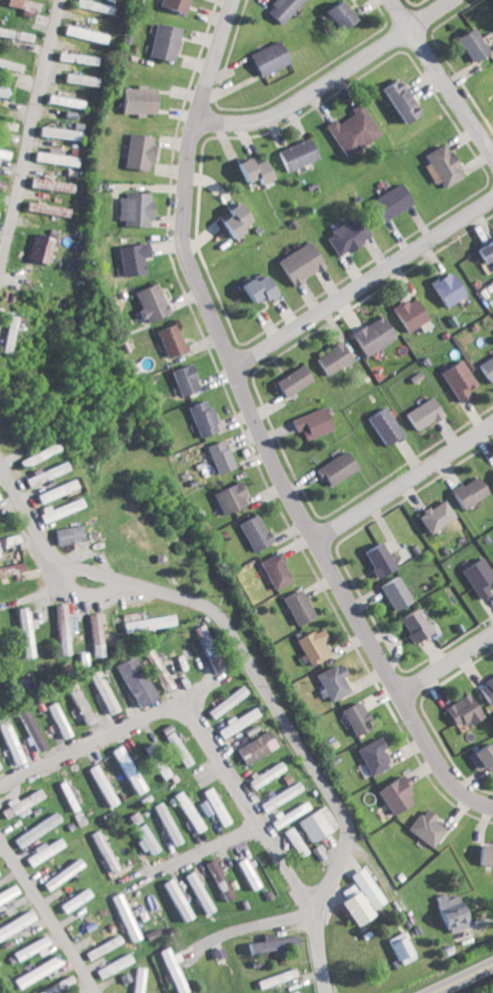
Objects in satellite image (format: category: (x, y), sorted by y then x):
building: (170, 5)
building: (21, 6)
building: (90, 6)
building: (279, 9)
building: (333, 15)
building: (5, 31)
building: (81, 32)
building: (159, 41)
building: (467, 43)
building: (74, 57)
building: (265, 57)
building: (11, 65)
road: (330, 75)
building: (78, 78)
road: (441, 80)
building: (3, 89)
building: (133, 98)
building: (395, 98)
building: (63, 100)
building: (349, 129)
road: (29, 131)
building: (57, 132)
building: (134, 150)
building: (3, 152)
building: (293, 153)
building: (51, 156)
building: (437, 164)
building: (249, 169)
building: (49, 184)
building: (387, 201)
building: (42, 207)
building: (130, 207)
building: (230, 218)
building: (343, 234)
building: (37, 248)
building: (485, 251)
building: (129, 257)
building: (295, 262)
road: (364, 278)
building: (252, 287)
building: (443, 288)
building: (147, 301)
building: (405, 313)
building: (8, 329)
building: (369, 334)
building: (166, 338)
building: (329, 357)
building: (486, 367)
building: (455, 378)
building: (181, 379)
building: (289, 380)
building: (420, 413)
building: (199, 417)
building: (309, 422)
building: (381, 425)
road: (266, 427)
building: (35, 454)
building: (217, 455)
building: (332, 467)
building: (491, 472)
building: (43, 473)
road: (406, 477)
building: (53, 490)
building: (463, 491)
building: (227, 496)
building: (59, 508)
building: (429, 515)
building: (251, 531)
building: (66, 534)
building: (10, 538)
building: (373, 558)
building: (10, 569)
building: (272, 569)
building: (476, 576)
road: (77, 591)
building: (390, 592)
building: (294, 606)
building: (144, 623)
building: (409, 624)
building: (61, 628)
building: (23, 631)
building: (198, 632)
building: (94, 634)
road: (231, 634)
building: (310, 645)
road: (444, 661)
building: (177, 662)
building: (133, 681)
building: (329, 681)
building: (485, 688)
building: (101, 691)
building: (74, 695)
building: (225, 701)
building: (458, 710)
road: (151, 712)
building: (85, 717)
building: (351, 717)
building: (58, 719)
building: (236, 722)
building: (31, 729)
building: (10, 740)
building: (253, 747)
building: (176, 748)
building: (369, 755)
building: (480, 756)
building: (125, 769)
building: (159, 769)
building: (263, 775)
building: (100, 785)
building: (65, 795)
building: (391, 795)
building: (278, 796)
building: (20, 803)
building: (210, 806)
building: (186, 810)
building: (288, 814)
building: (133, 818)
building: (165, 822)
building: (311, 825)
building: (422, 827)
building: (34, 830)
building: (144, 839)
building: (293, 841)
road: (196, 849)
building: (44, 850)
building: (103, 850)
building: (483, 854)
building: (244, 873)
building: (60, 874)
building: (216, 879)
building: (362, 887)
building: (197, 891)
building: (7, 892)
building: (176, 899)
building: (72, 900)
road: (309, 900)
building: (349, 905)
building: (444, 913)
building: (122, 916)
road: (45, 917)
road: (260, 921)
building: (16, 923)
building: (268, 943)
building: (101, 947)
building: (30, 948)
building: (396, 949)
building: (112, 965)
building: (172, 970)
building: (36, 971)
building: (273, 978)
building: (137, 979)
road: (463, 979)
building: (293, 992)

